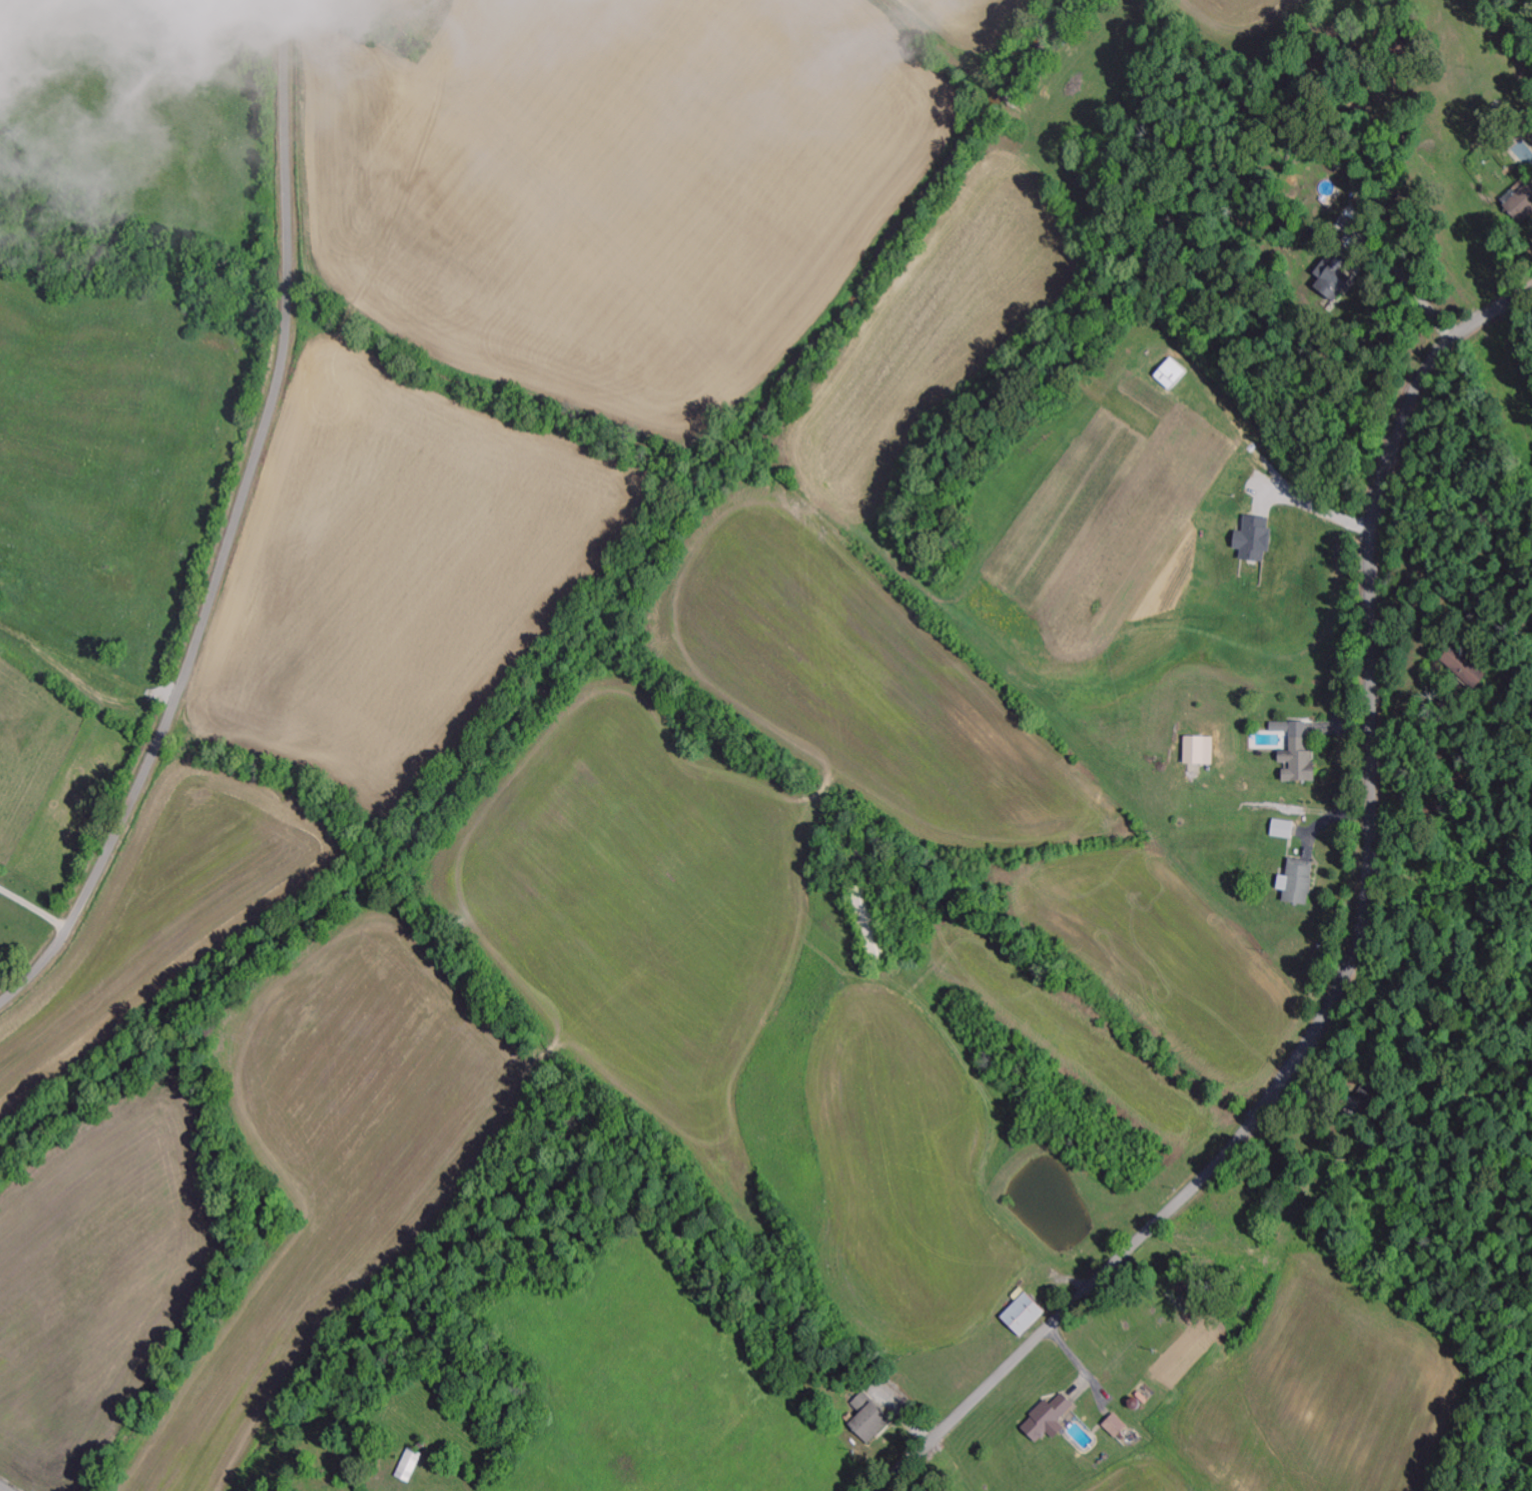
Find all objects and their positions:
building: (1521, 203)
building: (1332, 278)
building: (1170, 374)
road: (233, 528)
building: (1252, 538)
building: (1198, 750)
building: (1296, 752)
building: (1282, 828)
building: (1296, 882)
road: (1354, 949)
building: (1360, 1099)
building: (1021, 1314)
building: (867, 1419)
building: (1046, 1419)
building: (1114, 1425)
road: (1, 1489)

